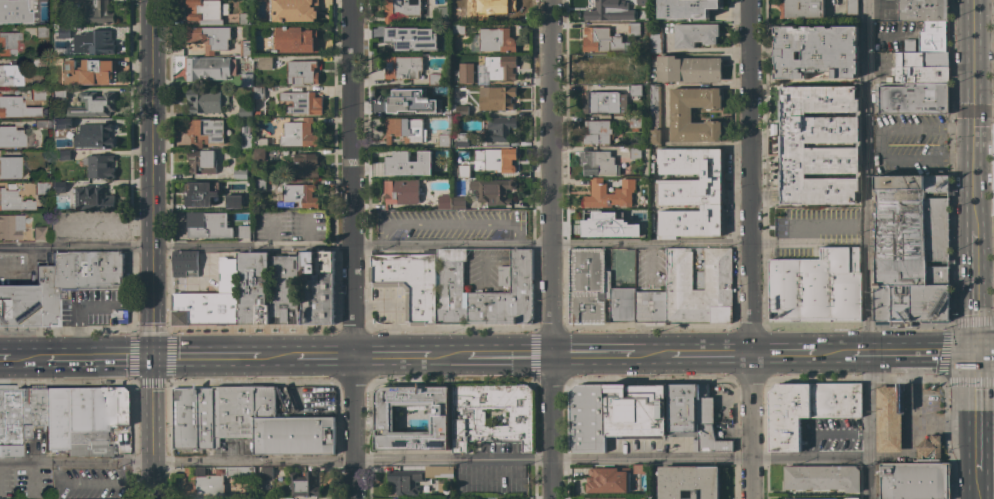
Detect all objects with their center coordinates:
building: (459, 2)
building: (638, 2)
building: (63, 3)
building: (851, 7)
building: (403, 8)
building: (687, 8)
building: (801, 8)
building: (15, 10)
building: (293, 10)
building: (922, 10)
building: (206, 11)
building: (491, 11)
building: (603, 11)
building: (96, 12)
building: (440, 13)
building: (244, 18)
building: (458, 29)
building: (633, 29)
building: (41, 31)
building: (60, 32)
building: (695, 34)
road: (883, 35)
building: (929, 36)
building: (402, 37)
building: (210, 38)
building: (294, 39)
building: (654, 39)
building: (496, 40)
building: (601, 40)
building: (9, 42)
building: (93, 42)
building: (245, 47)
building: (434, 49)
building: (816, 51)
building: (263, 61)
building: (633, 61)
building: (41, 62)
building: (402, 67)
building: (500, 67)
building: (921, 67)
building: (209, 68)
building: (688, 69)
building: (598, 71)
building: (87, 72)
building: (301, 73)
building: (13, 75)
building: (461, 79)
building: (246, 80)
building: (48, 84)
building: (634, 90)
building: (59, 93)
building: (258, 93)
building: (38, 94)
building: (458, 94)
building: (913, 97)
building: (422, 98)
building: (496, 98)
building: (206, 100)
building: (604, 102)
building: (302, 103)
building: (92, 105)
building: (17, 108)
traffic signals: (970, 110)
building: (245, 111)
building: (462, 111)
building: (256, 113)
road: (970, 113)
building: (654, 114)
building: (680, 115)
building: (634, 121)
building: (449, 122)
building: (42, 123)
building: (61, 123)
road: (153, 124)
road: (960, 127)
building: (498, 129)
building: (403, 130)
building: (204, 131)
building: (597, 132)
building: (298, 134)
building: (97, 135)
building: (11, 136)
building: (245, 136)
building: (444, 139)
building: (461, 140)
building: (261, 142)
building: (792, 145)
road: (884, 146)
building: (634, 153)
building: (64, 154)
building: (258, 155)
road: (961, 159)
building: (500, 160)
building: (201, 162)
building: (409, 163)
building: (598, 163)
building: (306, 165)
building: (99, 166)
building: (10, 167)
building: (463, 171)
building: (239, 174)
building: (259, 185)
building: (58, 186)
building: (42, 187)
building: (493, 191)
building: (200, 192)
building: (400, 192)
building: (691, 193)
building: (608, 194)
building: (299, 196)
building: (93, 198)
building: (14, 200)
building: (233, 200)
building: (444, 202)
building: (458, 203)
building: (603, 221)
building: (652, 223)
building: (210, 224)
building: (638, 225)
building: (11, 226)
building: (40, 232)
building: (244, 232)
road: (434, 246)
road: (354, 249)
road: (552, 249)
road: (750, 249)
road: (869, 249)
building: (911, 251)
building: (185, 264)
building: (717, 269)
building: (75, 278)
building: (409, 282)
building: (586, 285)
building: (317, 287)
building: (816, 287)
building: (252, 288)
building: (451, 288)
road: (972, 288)
building: (283, 289)
building: (506, 295)
building: (209, 300)
building: (619, 301)
road: (154, 303)
building: (18, 305)
building: (650, 308)
building: (118, 316)
traffic signals: (974, 350)
road: (984, 350)
road: (910, 351)
road: (780, 354)
road: (828, 354)
road: (511, 355)
road: (594, 355)
road: (654, 355)
road: (712, 355)
road: (394, 356)
road: (453, 356)
road: (208, 357)
road: (280, 357)
road: (326, 357)
road: (7, 358)
road: (32, 358)
road: (102, 358)
traffic signals: (154, 358)
building: (33, 407)
building: (682, 408)
building: (808, 409)
building: (240, 410)
building: (635, 410)
building: (381, 413)
road: (974, 414)
building: (95, 416)
building: (56, 417)
building: (193, 418)
building: (587, 418)
building: (10, 419)
building: (520, 419)
building: (889, 419)
road: (911, 419)
building: (707, 424)
road: (154, 428)
building: (294, 435)
building: (929, 449)
road: (434, 460)
building: (266, 472)
building: (822, 477)
building: (607, 479)
building: (212, 480)
building: (404, 481)
building: (914, 481)
building: (688, 482)
building: (303, 486)
road: (975, 489)
building: (266, 498)
building: (460, 498)
building: (612, 498)
building: (852, 498)

